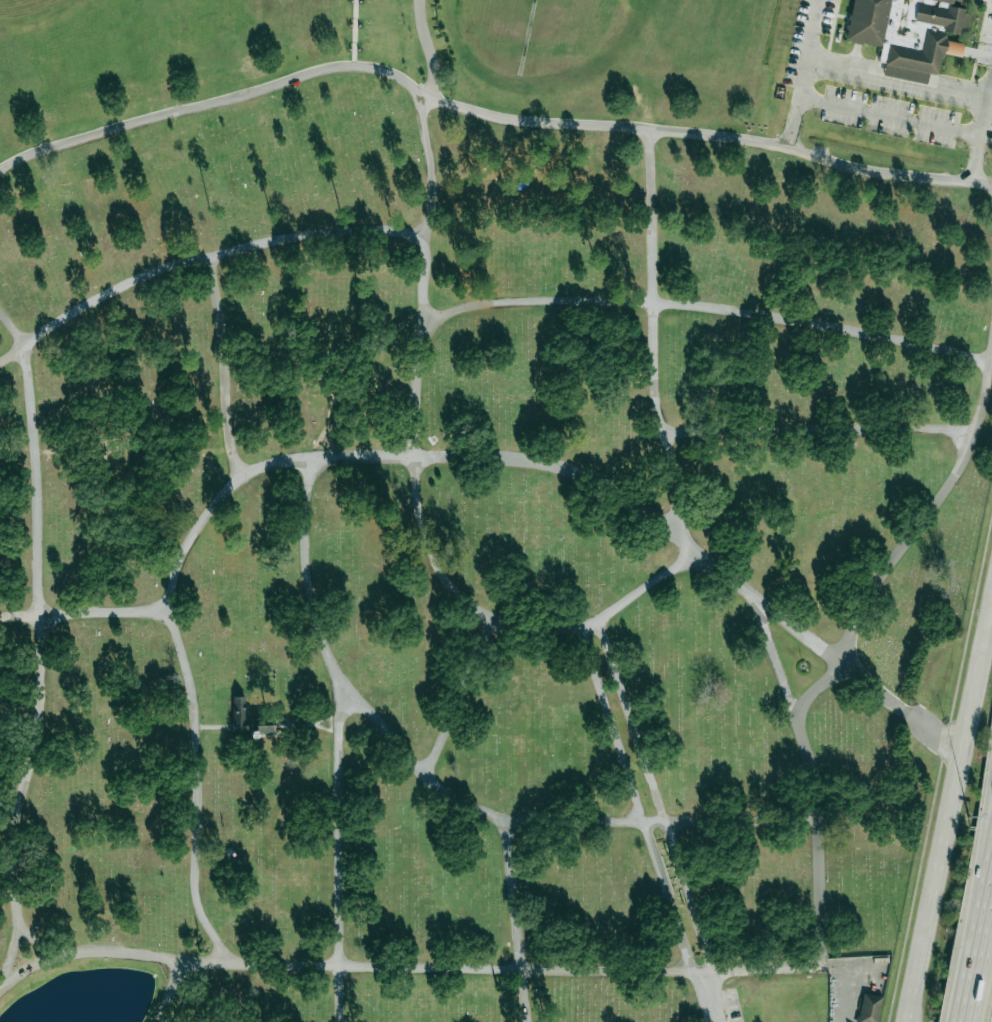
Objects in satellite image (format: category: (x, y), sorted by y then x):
building: (958, 0)
road: (354, 32)
building: (908, 33)
road: (803, 72)
parking lot: (806, 77)
road: (898, 80)
road: (214, 102)
road: (889, 116)
road: (710, 135)
building: (236, 136)
road: (981, 136)
road: (430, 160)
road: (199, 259)
road: (640, 301)
road: (223, 367)
road: (331, 404)
road: (817, 429)
road: (60, 451)
road: (174, 451)
road: (219, 498)
road: (677, 508)
park: (476, 512)
road: (306, 574)
road: (82, 613)
road: (511, 621)
road: (40, 646)
road: (772, 656)
flagpole: (804, 668)
road: (459, 697)
building: (239, 713)
road: (271, 713)
street lamp: (943, 718)
road: (309, 725)
road: (214, 727)
building: (264, 729)
road: (328, 729)
road: (659, 798)
road: (638, 804)
road: (952, 804)
road: (553, 821)
flagpole: (231, 848)
road: (340, 855)
road: (978, 886)
road: (515, 921)
road: (40, 942)
road: (984, 947)
road: (742, 969)
road: (171, 991)
road: (712, 998)
road: (847, 998)
road: (973, 1005)
building: (869, 1008)
road: (909, 1012)

